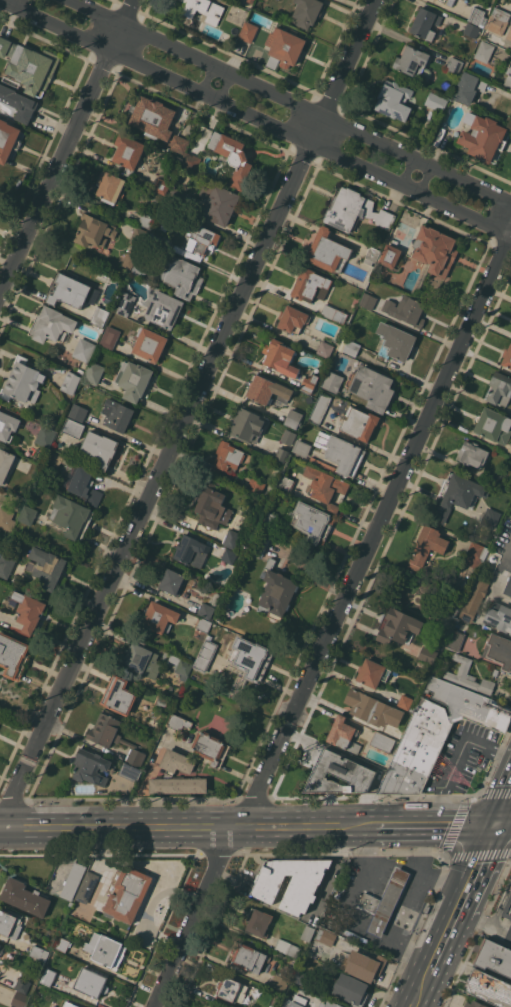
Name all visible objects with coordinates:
building: (251, 1)
building: (442, 1)
road: (24, 3)
building: (204, 9)
building: (308, 12)
building: (476, 15)
building: (498, 20)
building: (427, 24)
road: (123, 25)
building: (472, 30)
building: (248, 31)
building: (509, 34)
building: (287, 47)
building: (484, 51)
building: (413, 63)
building: (30, 65)
building: (454, 66)
road: (346, 72)
building: (508, 77)
road: (206, 80)
building: (468, 87)
building: (510, 88)
road: (227, 90)
building: (394, 100)
building: (436, 101)
building: (18, 102)
road: (287, 102)
building: (152, 117)
road: (258, 119)
building: (483, 136)
building: (8, 139)
building: (178, 144)
building: (128, 152)
building: (233, 157)
building: (191, 161)
road: (56, 172)
road: (406, 172)
road: (427, 181)
building: (161, 186)
building: (110, 188)
building: (175, 197)
building: (217, 202)
building: (355, 211)
building: (145, 219)
building: (94, 231)
building: (138, 237)
building: (152, 237)
building: (201, 239)
building: (434, 249)
building: (328, 251)
building: (371, 255)
building: (390, 255)
building: (129, 260)
building: (139, 270)
building: (182, 275)
building: (311, 285)
building: (67, 290)
building: (368, 301)
building: (124, 303)
building: (164, 309)
building: (406, 310)
building: (334, 314)
building: (99, 316)
building: (292, 318)
building: (51, 325)
building: (110, 337)
building: (395, 341)
building: (150, 344)
building: (351, 347)
building: (325, 349)
building: (84, 350)
building: (280, 357)
building: (507, 357)
building: (94, 372)
building: (133, 379)
building: (23, 381)
building: (332, 381)
building: (70, 382)
building: (309, 383)
building: (371, 387)
building: (500, 389)
building: (272, 391)
building: (320, 408)
building: (78, 411)
building: (117, 415)
building: (293, 418)
building: (359, 423)
building: (248, 424)
building: (7, 425)
building: (493, 425)
building: (74, 428)
building: (45, 436)
building: (288, 437)
building: (301, 447)
building: (99, 448)
road: (172, 453)
building: (281, 454)
building: (339, 454)
building: (472, 454)
building: (510, 455)
building: (230, 456)
building: (5, 464)
road: (403, 474)
building: (286, 483)
building: (84, 485)
building: (255, 485)
building: (325, 486)
building: (506, 486)
building: (456, 495)
building: (212, 506)
building: (28, 515)
building: (71, 516)
building: (268, 518)
building: (490, 518)
building: (6, 519)
building: (313, 522)
building: (231, 539)
building: (259, 541)
building: (243, 543)
building: (426, 547)
building: (191, 550)
building: (473, 554)
building: (229, 556)
building: (6, 565)
building: (46, 567)
building: (172, 581)
building: (508, 587)
building: (276, 592)
building: (215, 598)
building: (474, 599)
building: (454, 607)
building: (29, 610)
building: (206, 610)
building: (499, 616)
building: (160, 617)
building: (203, 624)
building: (398, 626)
building: (455, 640)
building: (431, 650)
building: (499, 650)
building: (205, 654)
building: (13, 655)
building: (250, 657)
building: (142, 660)
building: (181, 666)
building: (372, 672)
building: (495, 672)
building: (468, 676)
building: (119, 695)
building: (162, 701)
building: (405, 702)
building: (373, 709)
building: (1, 717)
road: (293, 718)
building: (178, 722)
road: (290, 724)
building: (438, 732)
building: (343, 734)
building: (114, 737)
building: (382, 741)
building: (210, 747)
road: (456, 756)
building: (0, 762)
building: (91, 767)
building: (171, 770)
building: (130, 772)
building: (339, 774)
road: (16, 794)
road: (502, 803)
road: (432, 822)
traffic signals: (494, 822)
road: (502, 822)
road: (307, 825)
road: (120, 827)
road: (372, 859)
road: (223, 866)
road: (333, 869)
road: (233, 879)
road: (446, 880)
building: (73, 881)
building: (291, 882)
building: (86, 888)
building: (510, 889)
building: (127, 893)
road: (460, 895)
building: (25, 897)
building: (385, 901)
road: (412, 904)
building: (507, 908)
building: (329, 910)
building: (73, 912)
road: (483, 920)
building: (7, 921)
building: (258, 922)
building: (308, 933)
building: (326, 937)
building: (62, 944)
building: (287, 947)
building: (1, 948)
building: (107, 950)
building: (39, 952)
building: (248, 957)
building: (494, 957)
building: (363, 965)
building: (48, 976)
building: (301, 977)
building: (91, 982)
building: (279, 983)
building: (22, 985)
road: (418, 988)
building: (489, 988)
building: (231, 989)
building: (351, 989)
building: (20, 999)
building: (298, 1001)
building: (70, 1004)
building: (329, 1004)
building: (476, 1004)
building: (207, 1006)

